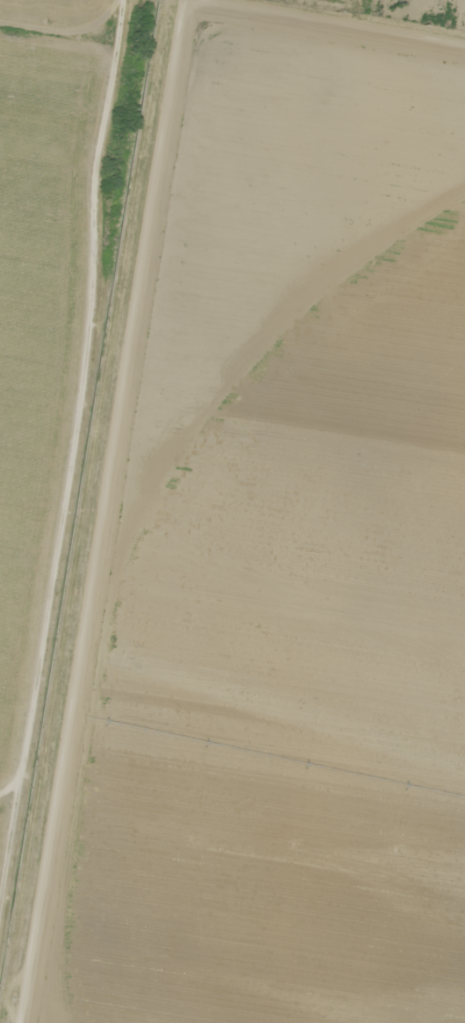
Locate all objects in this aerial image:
road: (320, 36)
road: (82, 65)
road: (97, 511)

